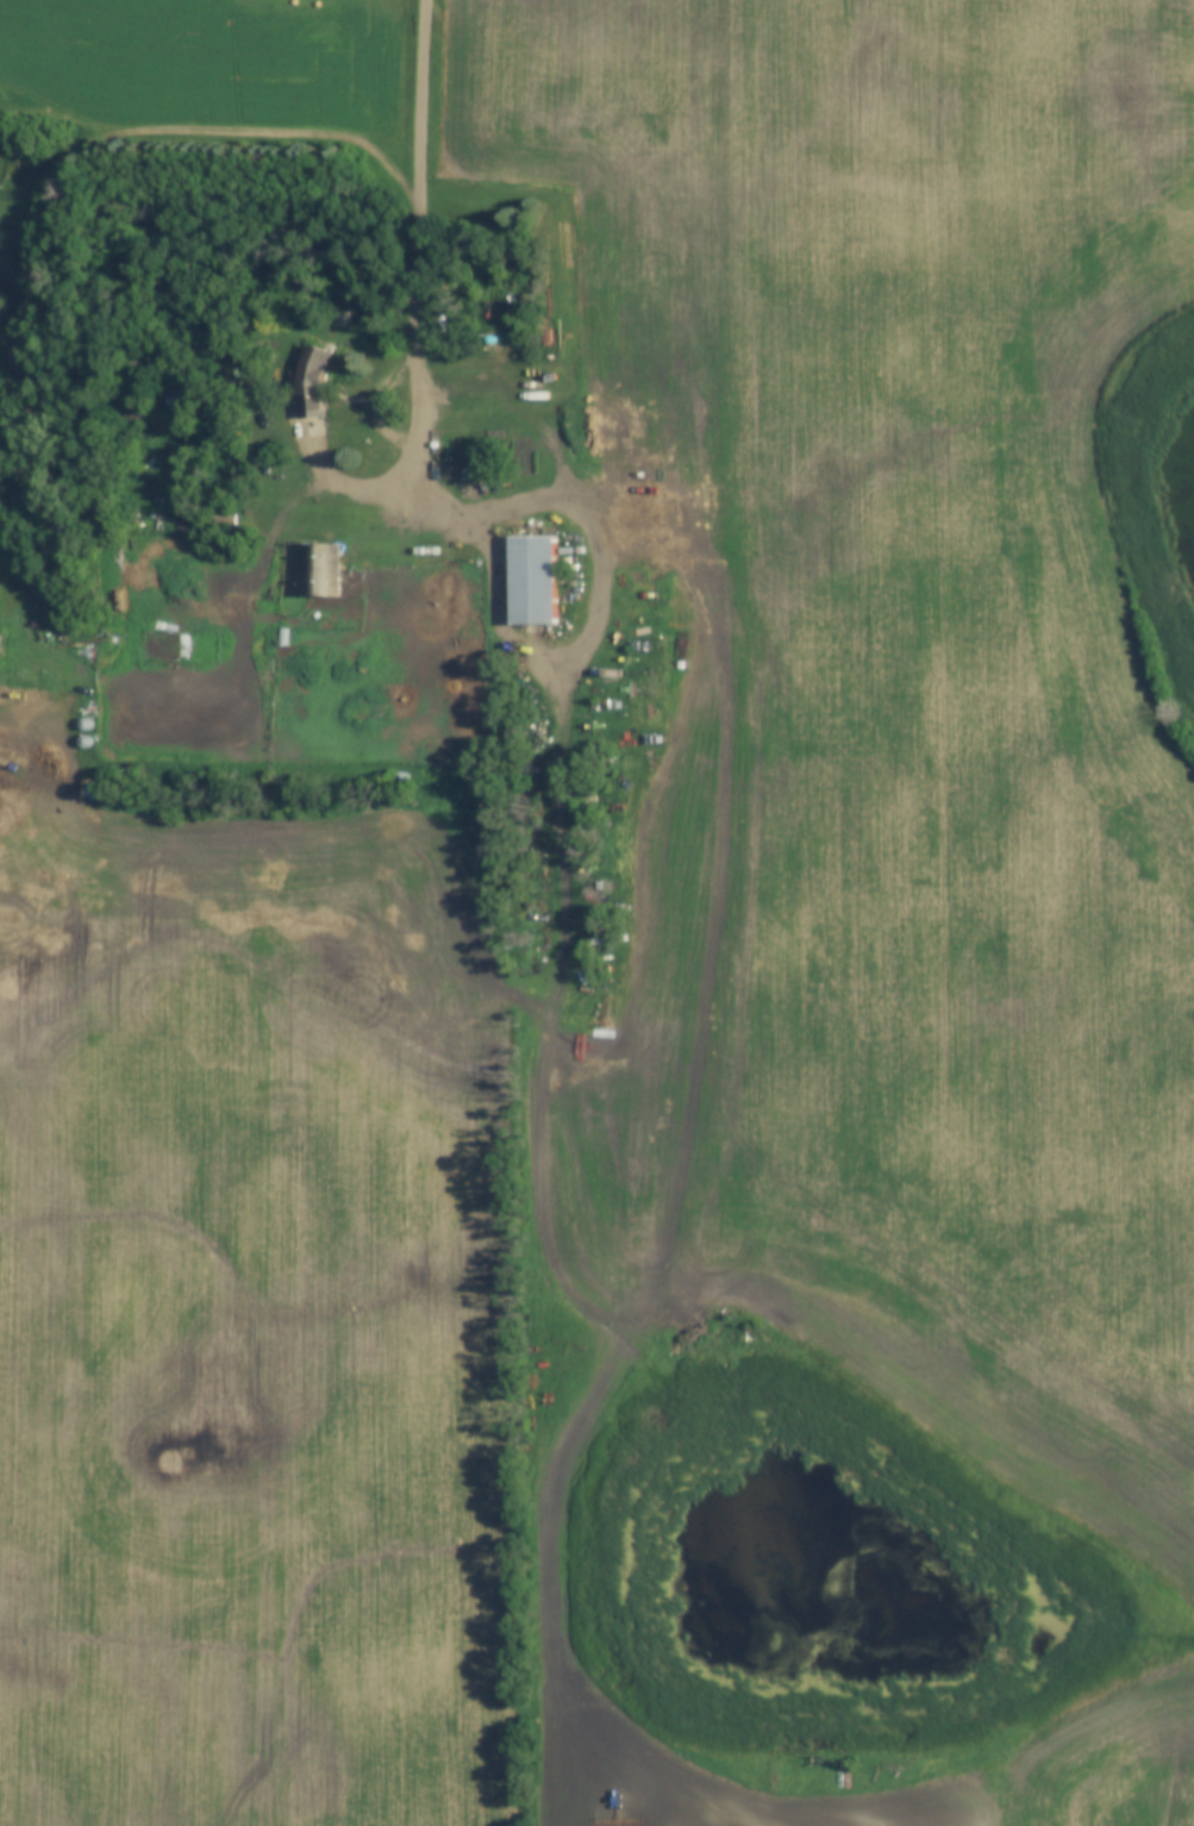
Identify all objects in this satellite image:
road: (149, 135)
road: (424, 175)
building: (313, 381)
building: (175, 398)
silo: (175, 398)
road: (405, 443)
road: (586, 489)
building: (325, 570)
building: (535, 577)
building: (285, 637)
building: (164, 646)
building: (87, 724)
silo: (87, 724)
building: (87, 742)
silo: (87, 742)

